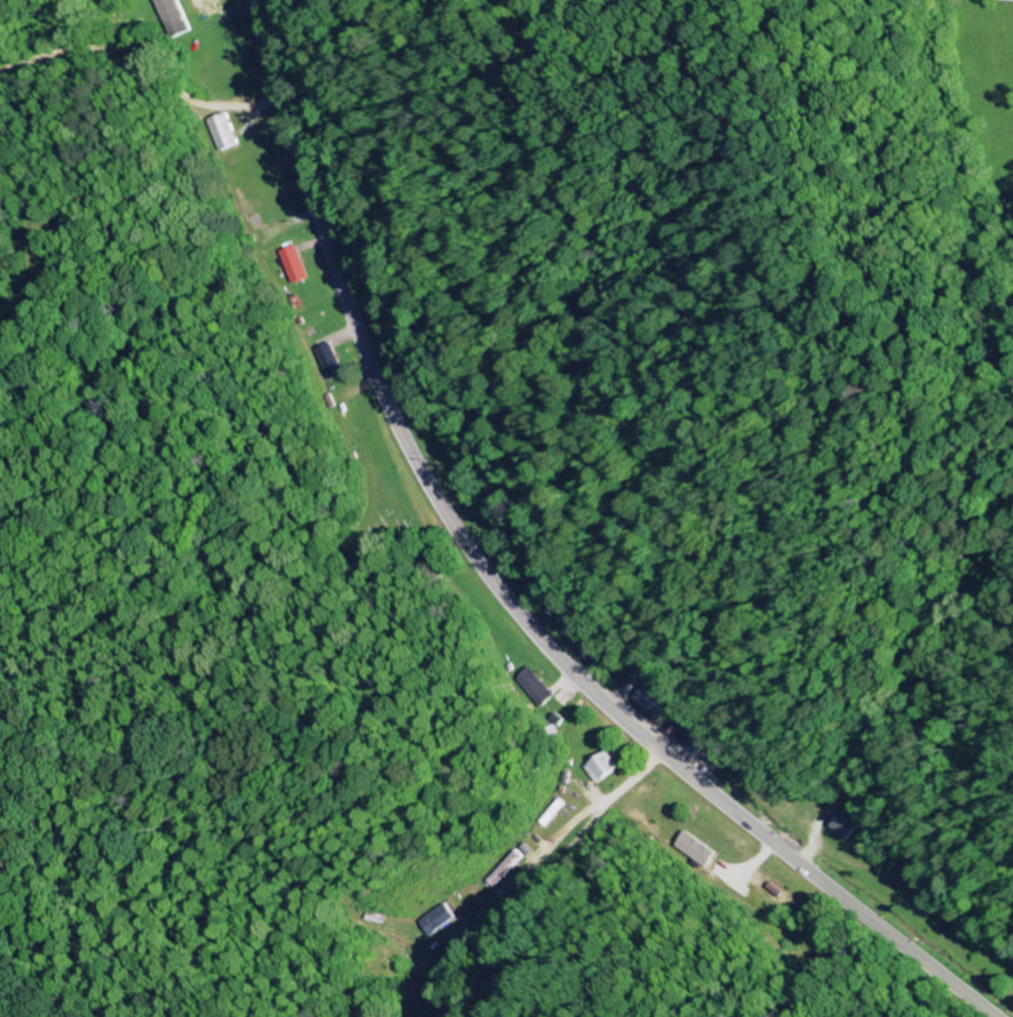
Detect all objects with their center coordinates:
building: (212, 7)
building: (173, 18)
road: (142, 61)
building: (222, 133)
road: (6, 257)
building: (296, 265)
building: (329, 361)
park: (389, 528)
road: (504, 593)
building: (576, 637)
building: (536, 688)
building: (649, 699)
building: (606, 768)
road: (605, 809)
building: (850, 824)
building: (696, 850)
building: (440, 920)

